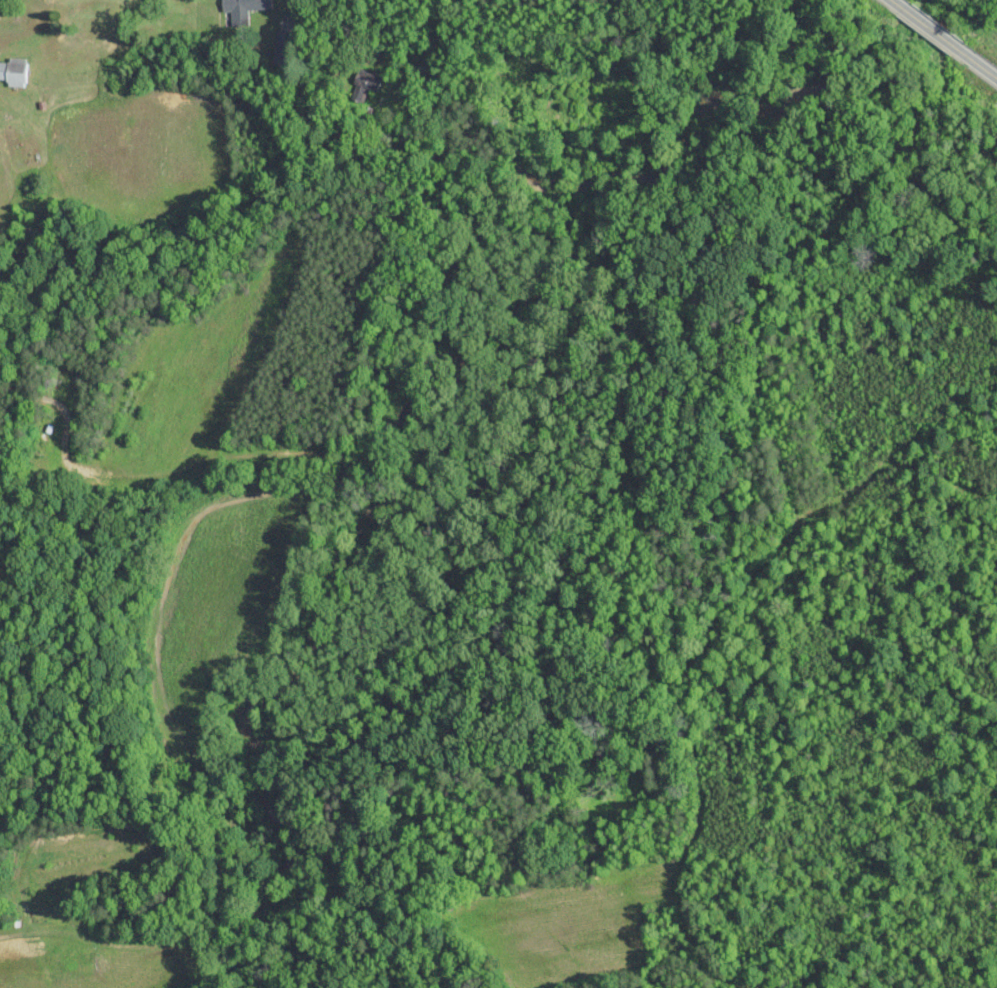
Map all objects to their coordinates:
building: (240, 8)
road: (942, 39)
road: (30, 393)

